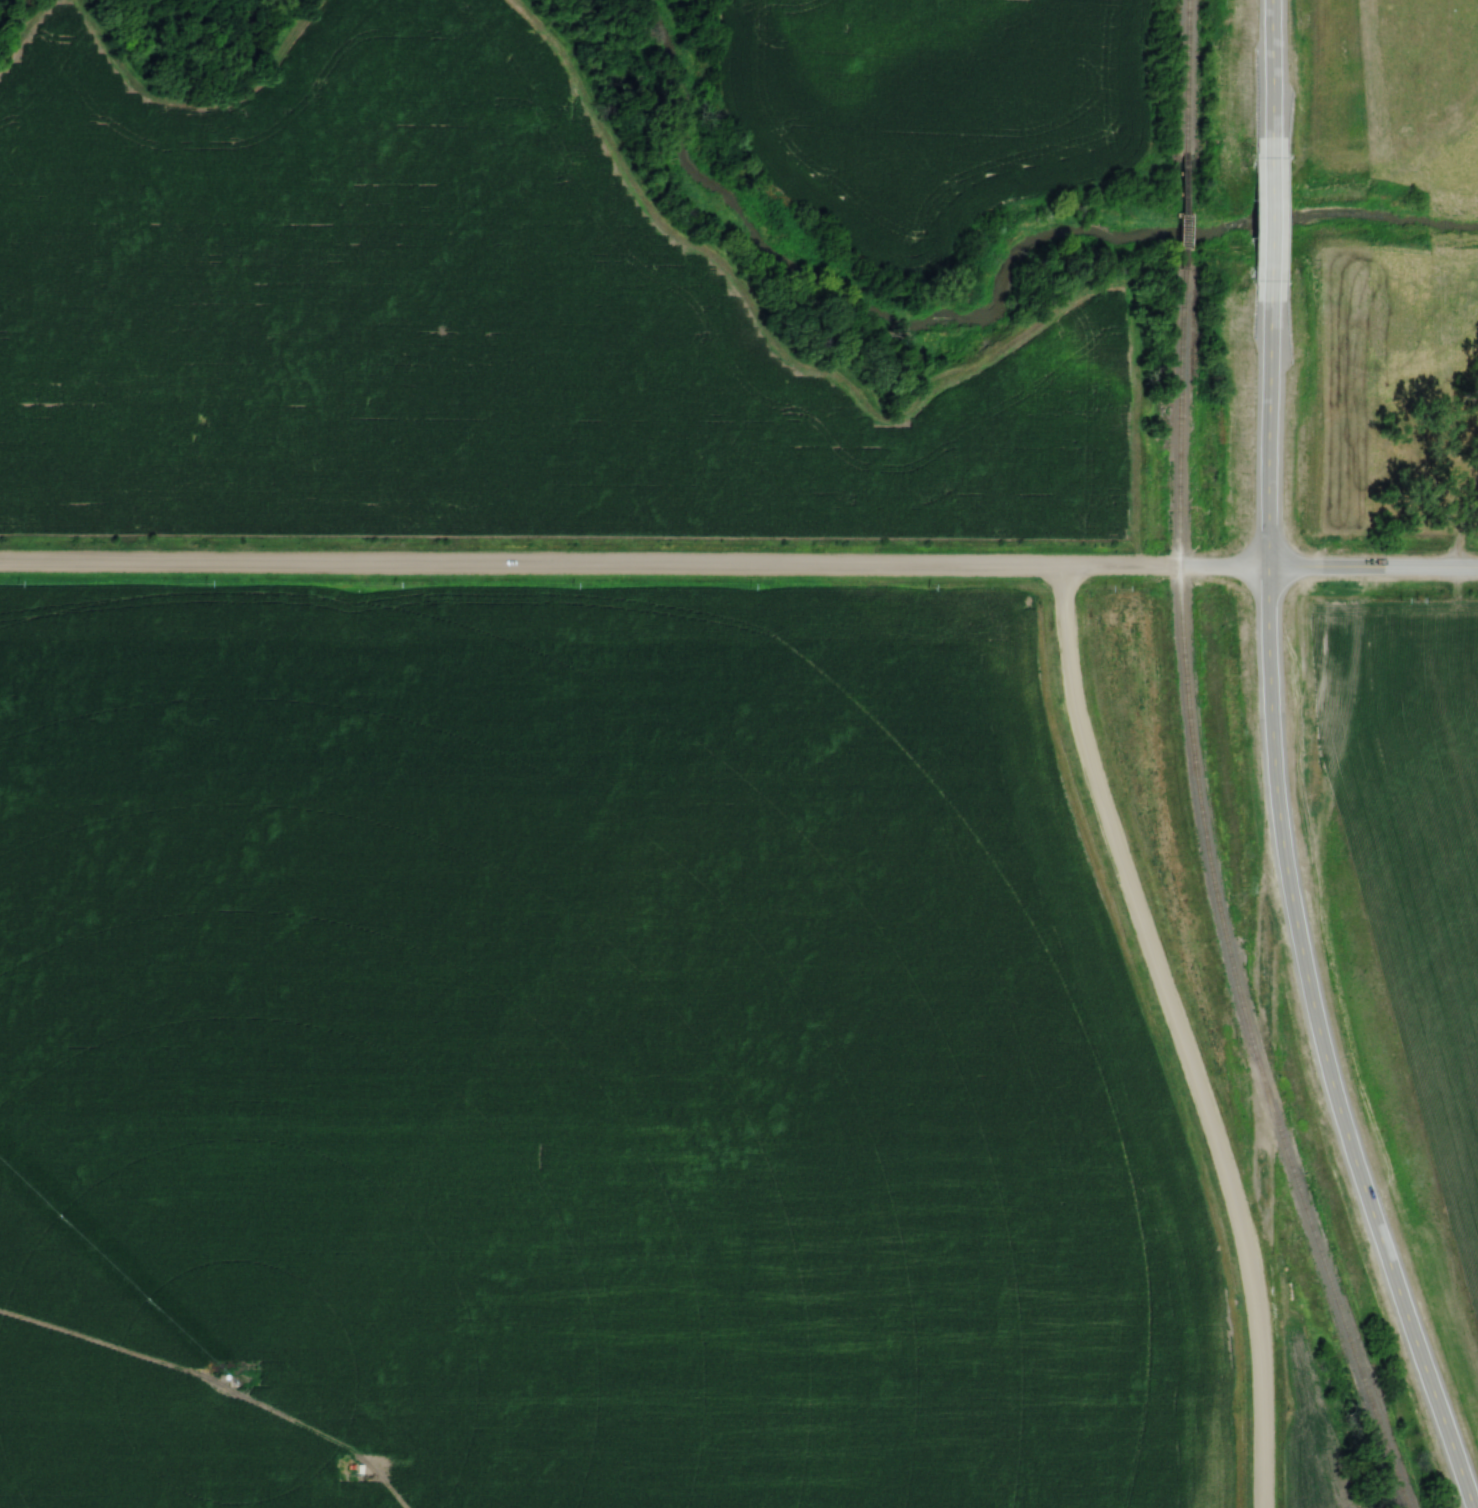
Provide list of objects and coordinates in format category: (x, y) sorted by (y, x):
road: (1265, 88)
railway: (1180, 99)
road: (1263, 222)
railway: (1175, 233)
river: (978, 320)
road: (1262, 519)
road: (1370, 568)
road: (631, 569)
crop: (1411, 849)
railway: (1216, 901)
road: (1179, 1035)
road: (1354, 1144)
crop: (1307, 1434)

